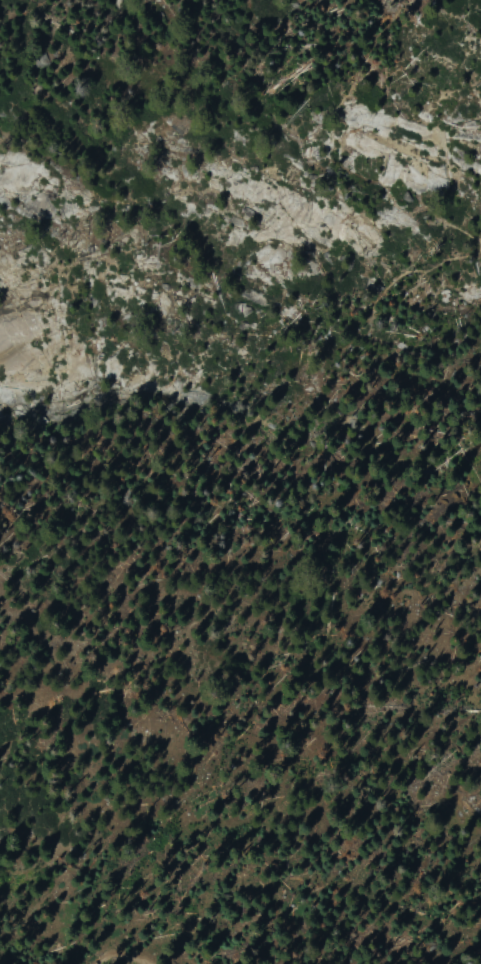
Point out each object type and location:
road: (160, 962)

